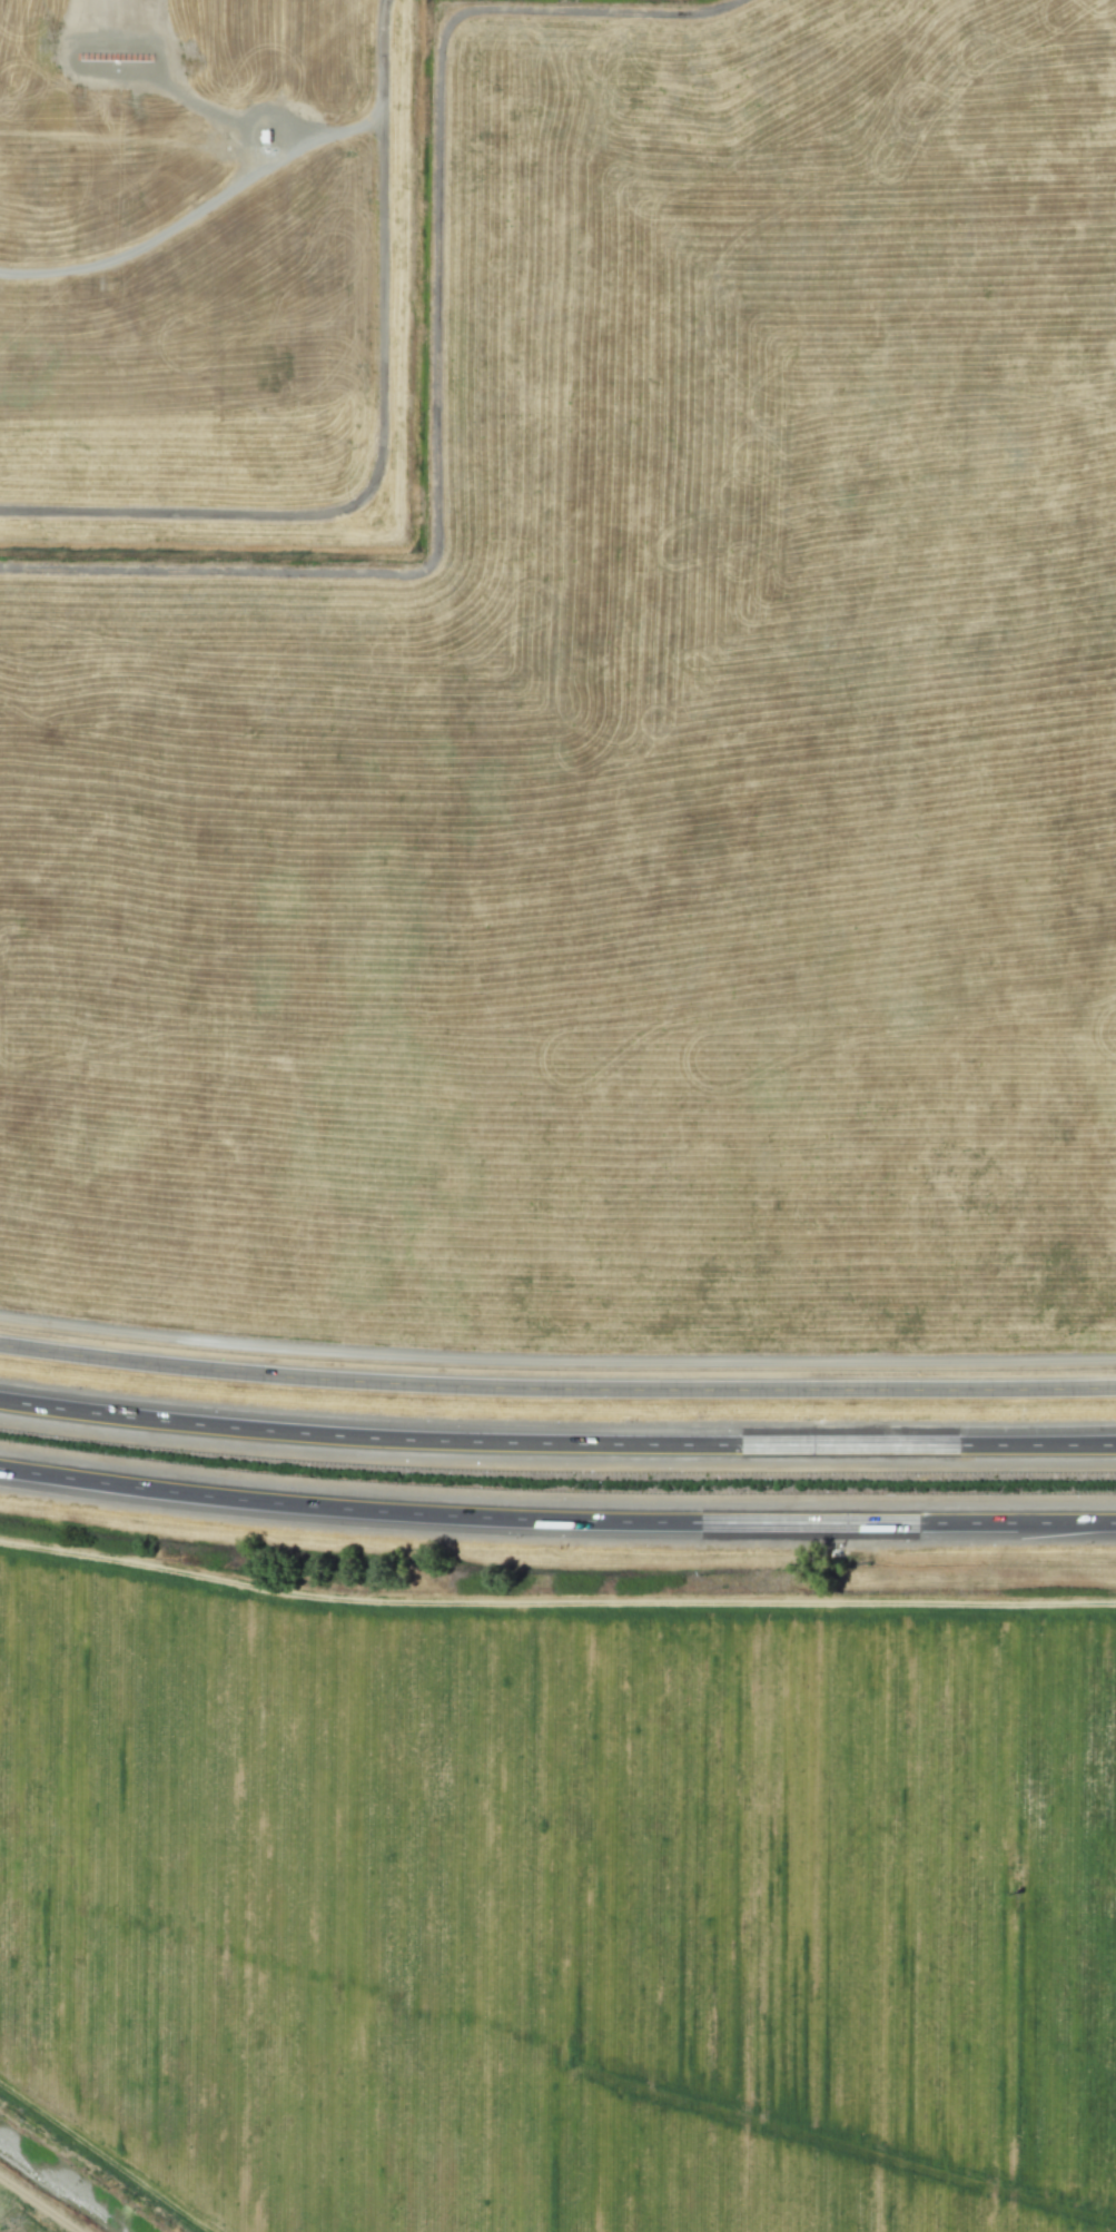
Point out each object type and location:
road: (373, 116)
airport: (561, 681)
road: (556, 1389)
road: (556, 1444)
road: (556, 1518)
crop: (560, 1904)

